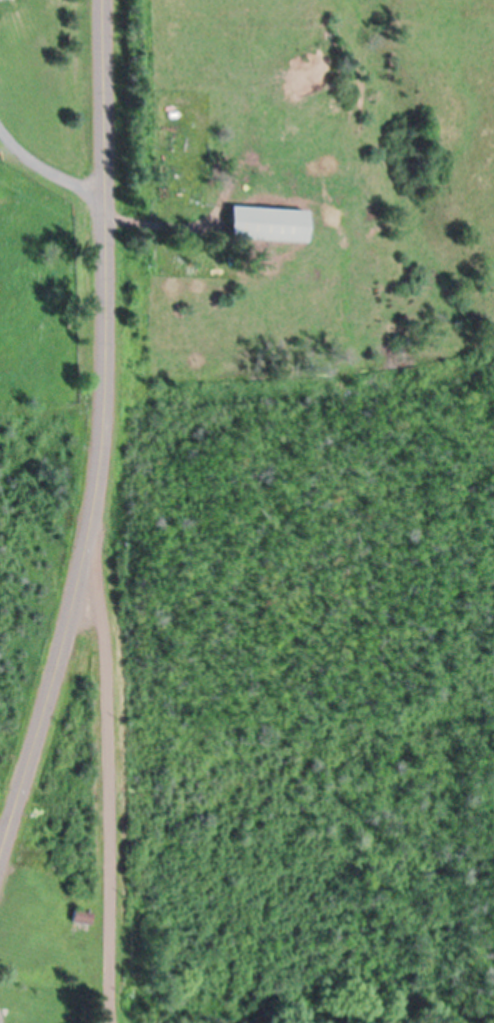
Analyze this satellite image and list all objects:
building: (6, 0)
crop: (297, 178)
building: (270, 225)
road: (107, 280)
crop: (48, 297)
road: (44, 711)
road: (111, 789)
building: (84, 920)
road: (1, 1017)

